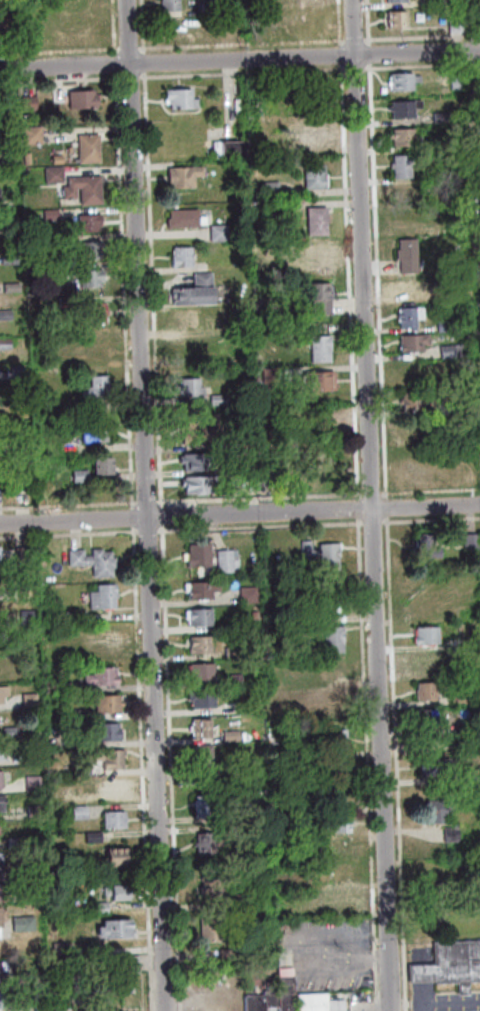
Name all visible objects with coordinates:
building: (392, 0)
building: (445, 2)
building: (167, 5)
building: (206, 7)
building: (393, 19)
road: (365, 22)
road: (337, 23)
building: (453, 25)
road: (140, 26)
road: (111, 27)
building: (172, 28)
building: (82, 34)
building: (50, 35)
road: (420, 37)
road: (352, 40)
road: (239, 44)
road: (126, 49)
road: (58, 51)
road: (366, 53)
road: (338, 55)
road: (113, 59)
road: (239, 59)
road: (141, 62)
road: (421, 66)
road: (352, 68)
road: (240, 73)
road: (127, 77)
road: (59, 80)
building: (400, 81)
building: (452, 81)
building: (83, 98)
building: (178, 99)
building: (401, 108)
building: (437, 117)
building: (476, 129)
building: (308, 132)
building: (31, 134)
building: (402, 137)
building: (88, 147)
building: (226, 150)
building: (399, 167)
building: (55, 175)
building: (427, 175)
building: (180, 176)
building: (311, 177)
building: (84, 188)
building: (267, 189)
building: (400, 192)
building: (475, 203)
building: (276, 208)
building: (180, 219)
building: (407, 219)
building: (89, 221)
building: (314, 221)
building: (215, 233)
building: (92, 249)
building: (315, 250)
building: (404, 256)
building: (179, 257)
building: (320, 271)
building: (477, 271)
building: (92, 277)
road: (375, 280)
road: (347, 281)
building: (406, 288)
road: (151, 289)
building: (192, 291)
building: (317, 297)
building: (257, 303)
building: (97, 311)
building: (185, 317)
building: (407, 317)
building: (441, 326)
building: (410, 343)
building: (98, 346)
building: (318, 348)
building: (448, 351)
building: (408, 371)
building: (267, 374)
building: (317, 382)
building: (478, 384)
building: (96, 386)
building: (188, 387)
building: (215, 399)
building: (409, 400)
building: (319, 422)
building: (412, 426)
building: (195, 431)
building: (94, 432)
building: (286, 441)
building: (246, 443)
building: (322, 450)
building: (194, 463)
building: (100, 467)
building: (76, 477)
building: (195, 485)
road: (428, 490)
road: (368, 493)
road: (256, 497)
road: (144, 502)
road: (67, 504)
road: (145, 505)
road: (369, 505)
road: (384, 507)
road: (355, 508)
road: (239, 514)
road: (159, 516)
road: (430, 518)
road: (371, 521)
road: (133, 522)
road: (258, 525)
road: (146, 529)
road: (69, 533)
building: (468, 541)
building: (424, 547)
building: (322, 553)
building: (198, 554)
building: (20, 555)
building: (92, 559)
building: (225, 560)
building: (202, 588)
building: (21, 590)
building: (103, 595)
building: (245, 595)
building: (424, 607)
building: (27, 615)
building: (74, 615)
building: (199, 616)
building: (309, 620)
building: (424, 635)
building: (102, 639)
building: (330, 639)
building: (200, 643)
building: (455, 644)
building: (229, 653)
building: (423, 663)
building: (201, 670)
building: (455, 671)
building: (102, 675)
building: (234, 679)
building: (51, 683)
building: (423, 691)
building: (4, 694)
building: (201, 698)
building: (29, 699)
building: (456, 699)
building: (108, 702)
building: (302, 703)
building: (229, 708)
building: (70, 713)
building: (333, 713)
building: (426, 718)
building: (201, 727)
building: (465, 727)
building: (108, 730)
building: (7, 731)
building: (233, 735)
building: (335, 739)
building: (435, 742)
building: (0, 751)
building: (203, 754)
building: (109, 758)
building: (29, 760)
road: (366, 764)
road: (394, 764)
road: (169, 767)
building: (335, 767)
road: (142, 768)
building: (431, 768)
building: (80, 770)
building: (207, 774)
building: (1, 778)
building: (34, 782)
building: (474, 782)
building: (112, 786)
building: (335, 792)
building: (1, 804)
building: (206, 806)
building: (34, 809)
building: (80, 811)
building: (432, 813)
building: (255, 815)
building: (114, 818)
building: (338, 823)
building: (93, 835)
building: (447, 835)
building: (236, 836)
building: (15, 841)
building: (209, 842)
building: (341, 848)
building: (116, 857)
building: (2, 861)
building: (32, 867)
building: (344, 872)
building: (438, 873)
building: (33, 881)
building: (210, 887)
building: (119, 891)
building: (234, 901)
building: (341, 902)
building: (100, 906)
building: (3, 915)
building: (23, 922)
building: (114, 927)
building: (213, 929)
building: (59, 945)
building: (232, 955)
building: (124, 963)
building: (458, 963)
building: (1, 971)
building: (424, 973)
building: (43, 978)
building: (285, 988)
building: (5, 999)
building: (258, 1001)
building: (311, 1001)
parking lot: (448, 1002)
road: (437, 1004)
building: (44, 1005)
road: (426, 1008)
building: (348, 1010)

